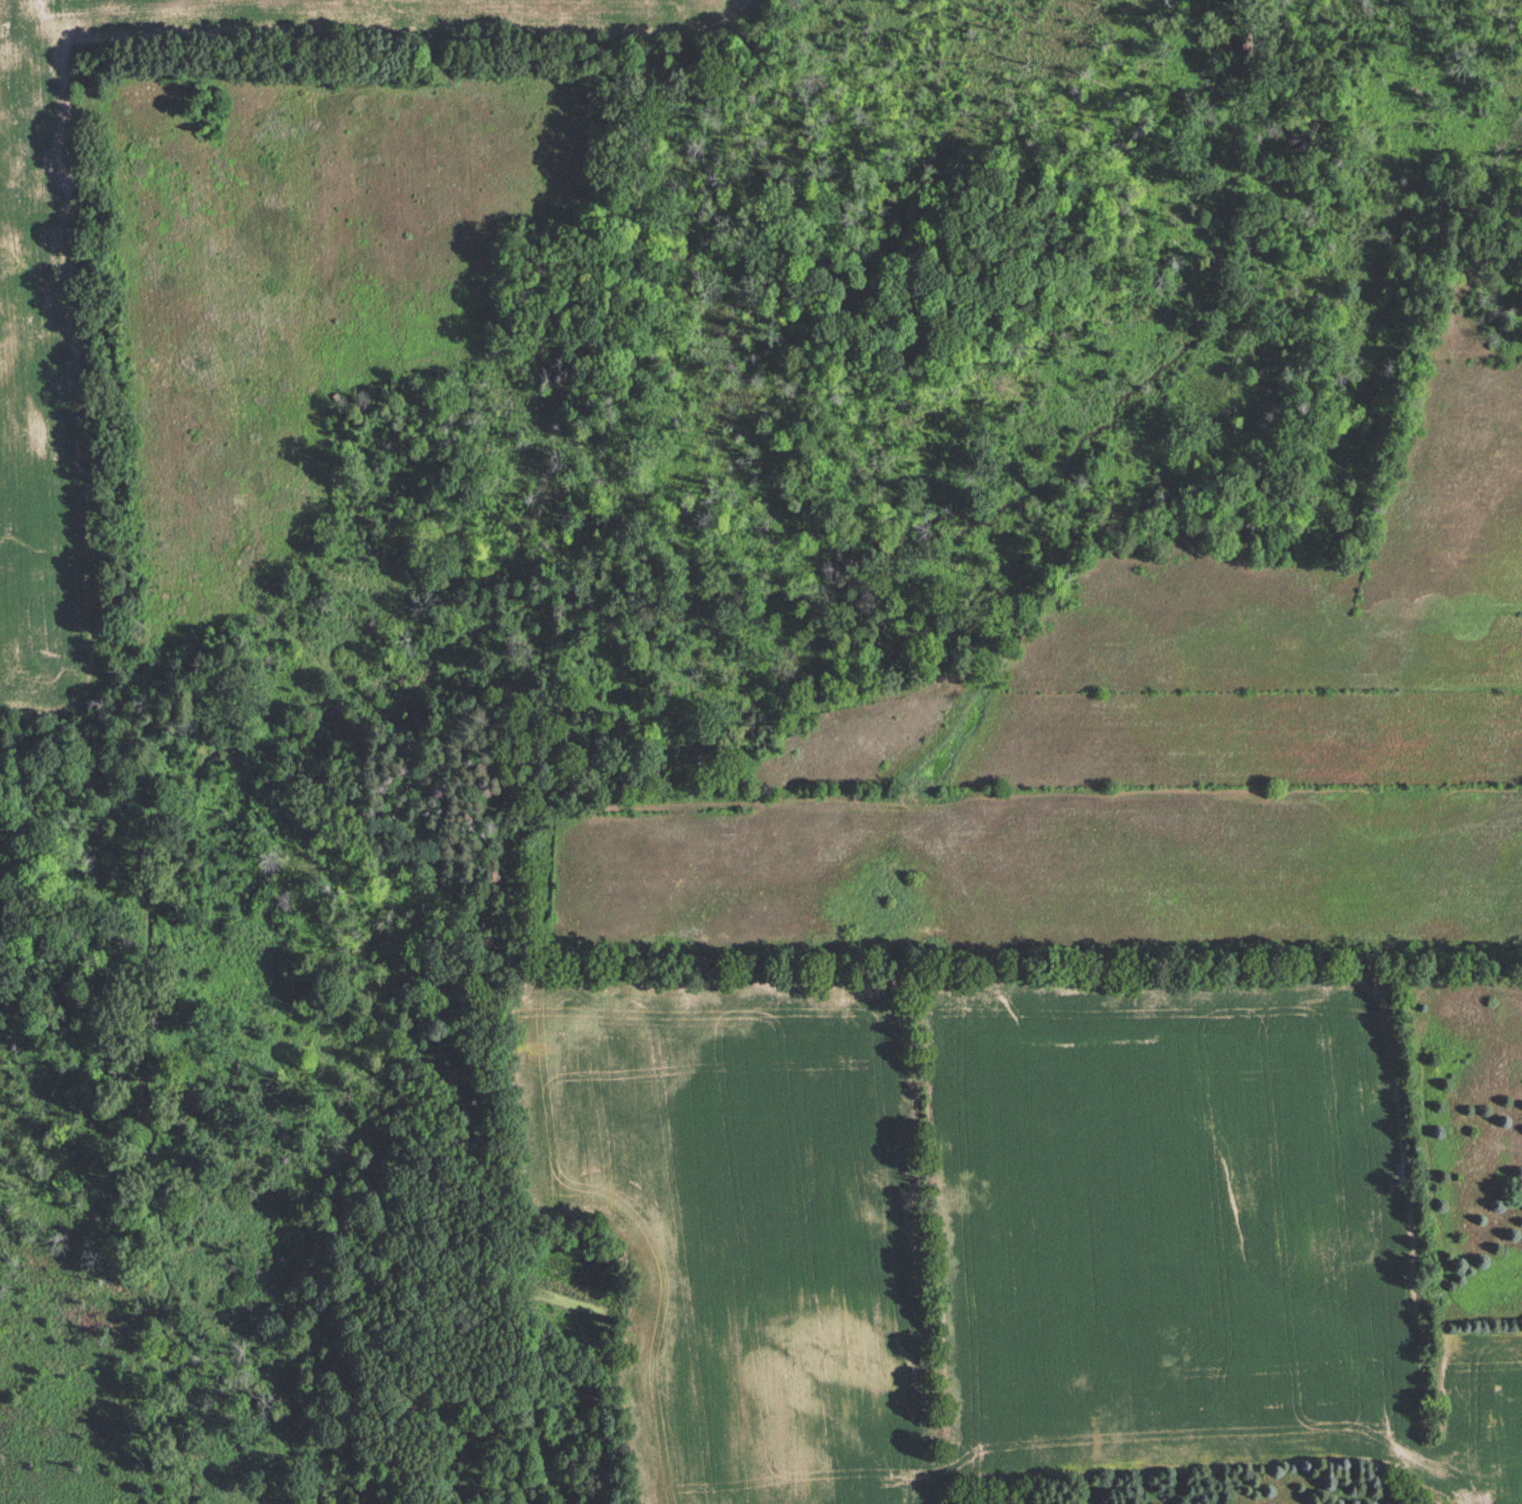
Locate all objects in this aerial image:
crop: (386, 17)
crop: (44, 384)
crop: (726, 1219)
crop: (1172, 1222)
crop: (1492, 1413)

